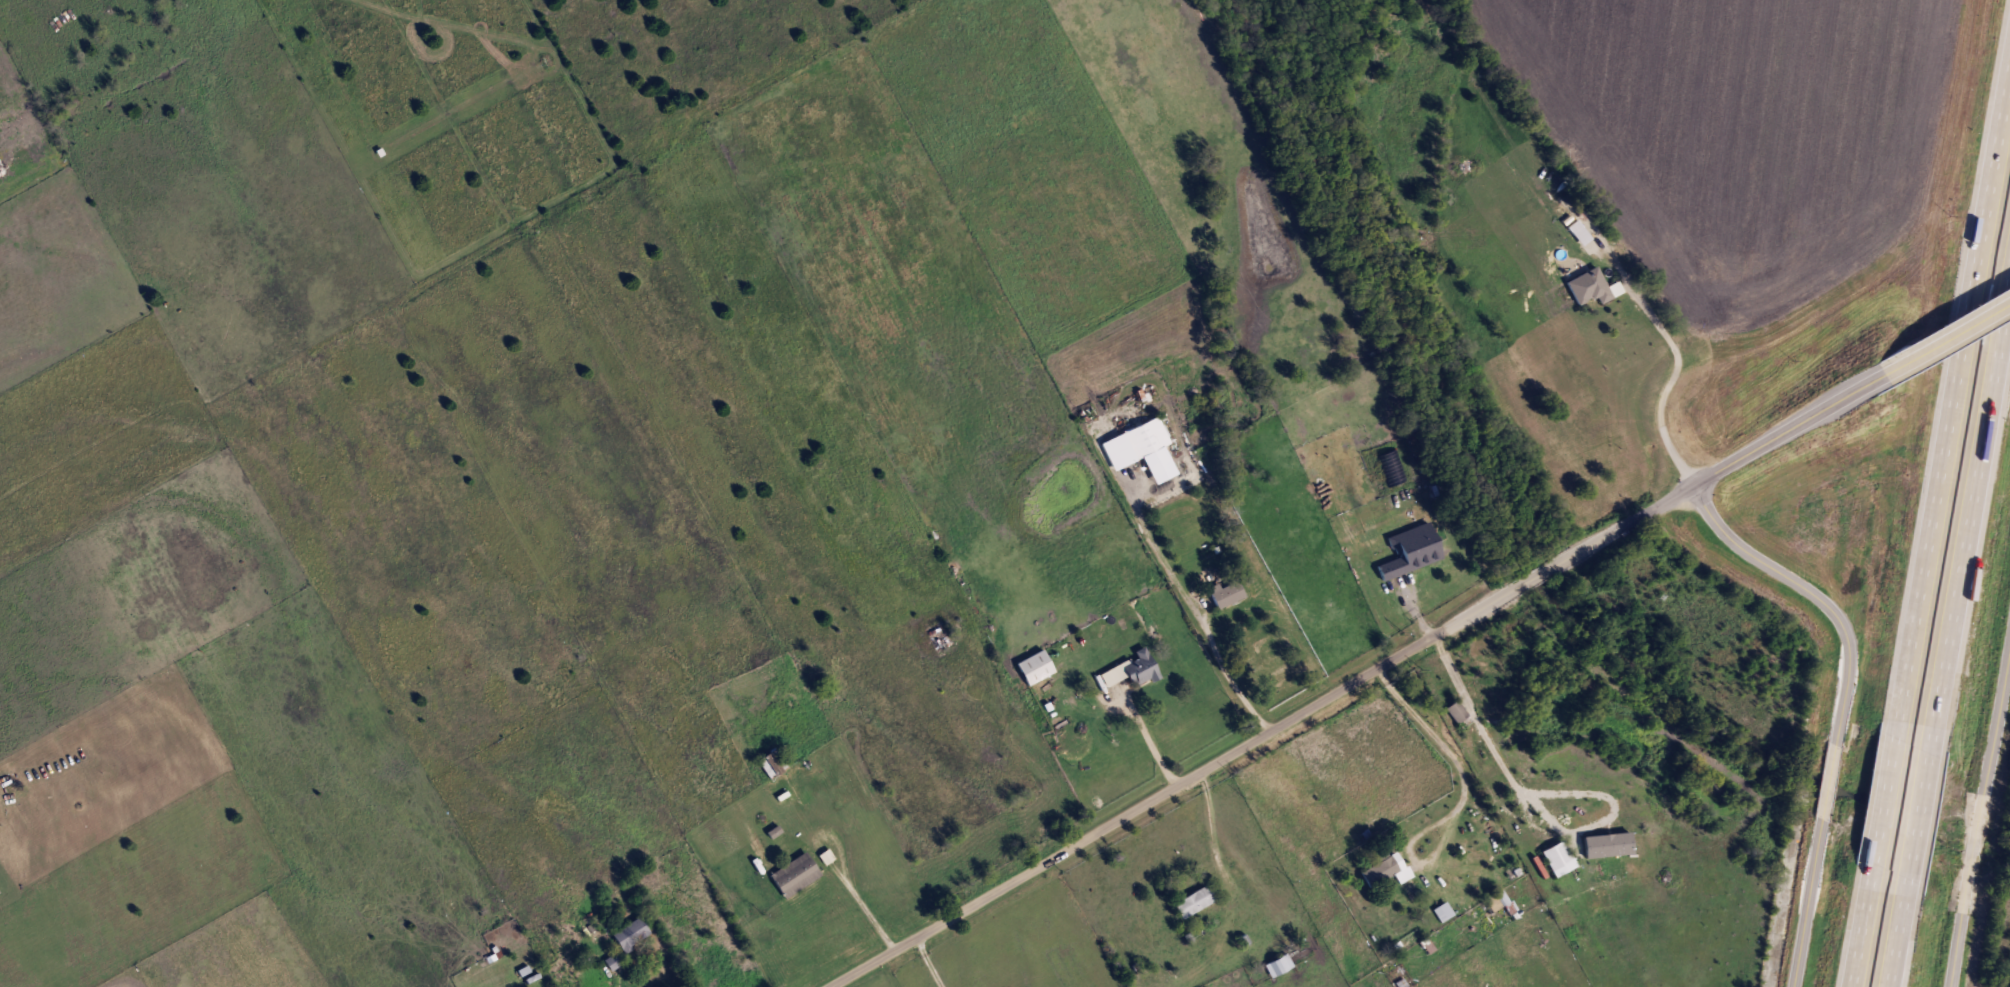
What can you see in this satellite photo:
building: (1587, 286)
road: (1953, 327)
road: (1675, 368)
road: (1954, 421)
building: (1144, 437)
road: (1966, 498)
building: (1408, 551)
road: (1813, 592)
building: (1225, 593)
road: (1192, 613)
building: (1033, 667)
building: (1131, 670)
road: (1456, 674)
road: (1364, 676)
building: (1456, 712)
road: (1427, 727)
building: (1494, 733)
road: (1147, 735)
road: (1827, 781)
road: (1887, 805)
road: (1911, 810)
road: (1979, 812)
road: (1212, 833)
road: (1570, 836)
road: (825, 857)
building: (1557, 858)
building: (1384, 867)
building: (793, 874)
road: (1436, 885)
building: (1193, 901)
road: (1806, 902)
building: (1441, 911)
road: (871, 912)
road: (1866, 928)
road: (1891, 930)
building: (629, 933)
road: (647, 954)
building: (612, 960)
road: (929, 962)
building: (1278, 965)

